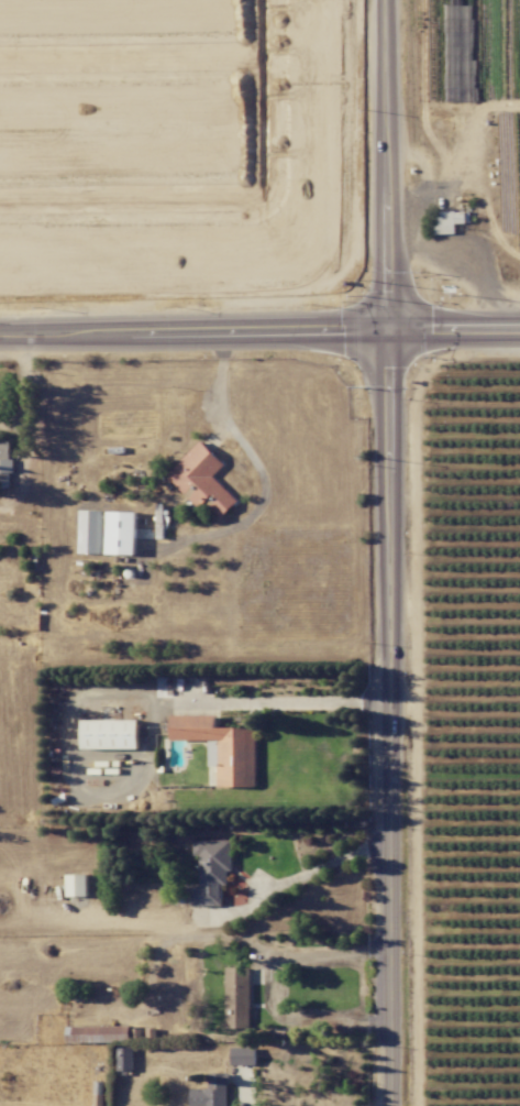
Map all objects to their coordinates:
road: (384, 166)
building: (447, 221)
road: (453, 331)
road: (192, 332)
building: (4, 462)
road: (259, 470)
building: (201, 480)
building: (89, 532)
building: (121, 533)
road: (298, 701)
road: (390, 719)
building: (110, 734)
building: (221, 747)
road: (327, 865)
building: (211, 870)
building: (76, 885)
road: (325, 954)
building: (237, 997)
building: (98, 1033)
building: (243, 1055)
building: (124, 1059)
building: (212, 1092)

